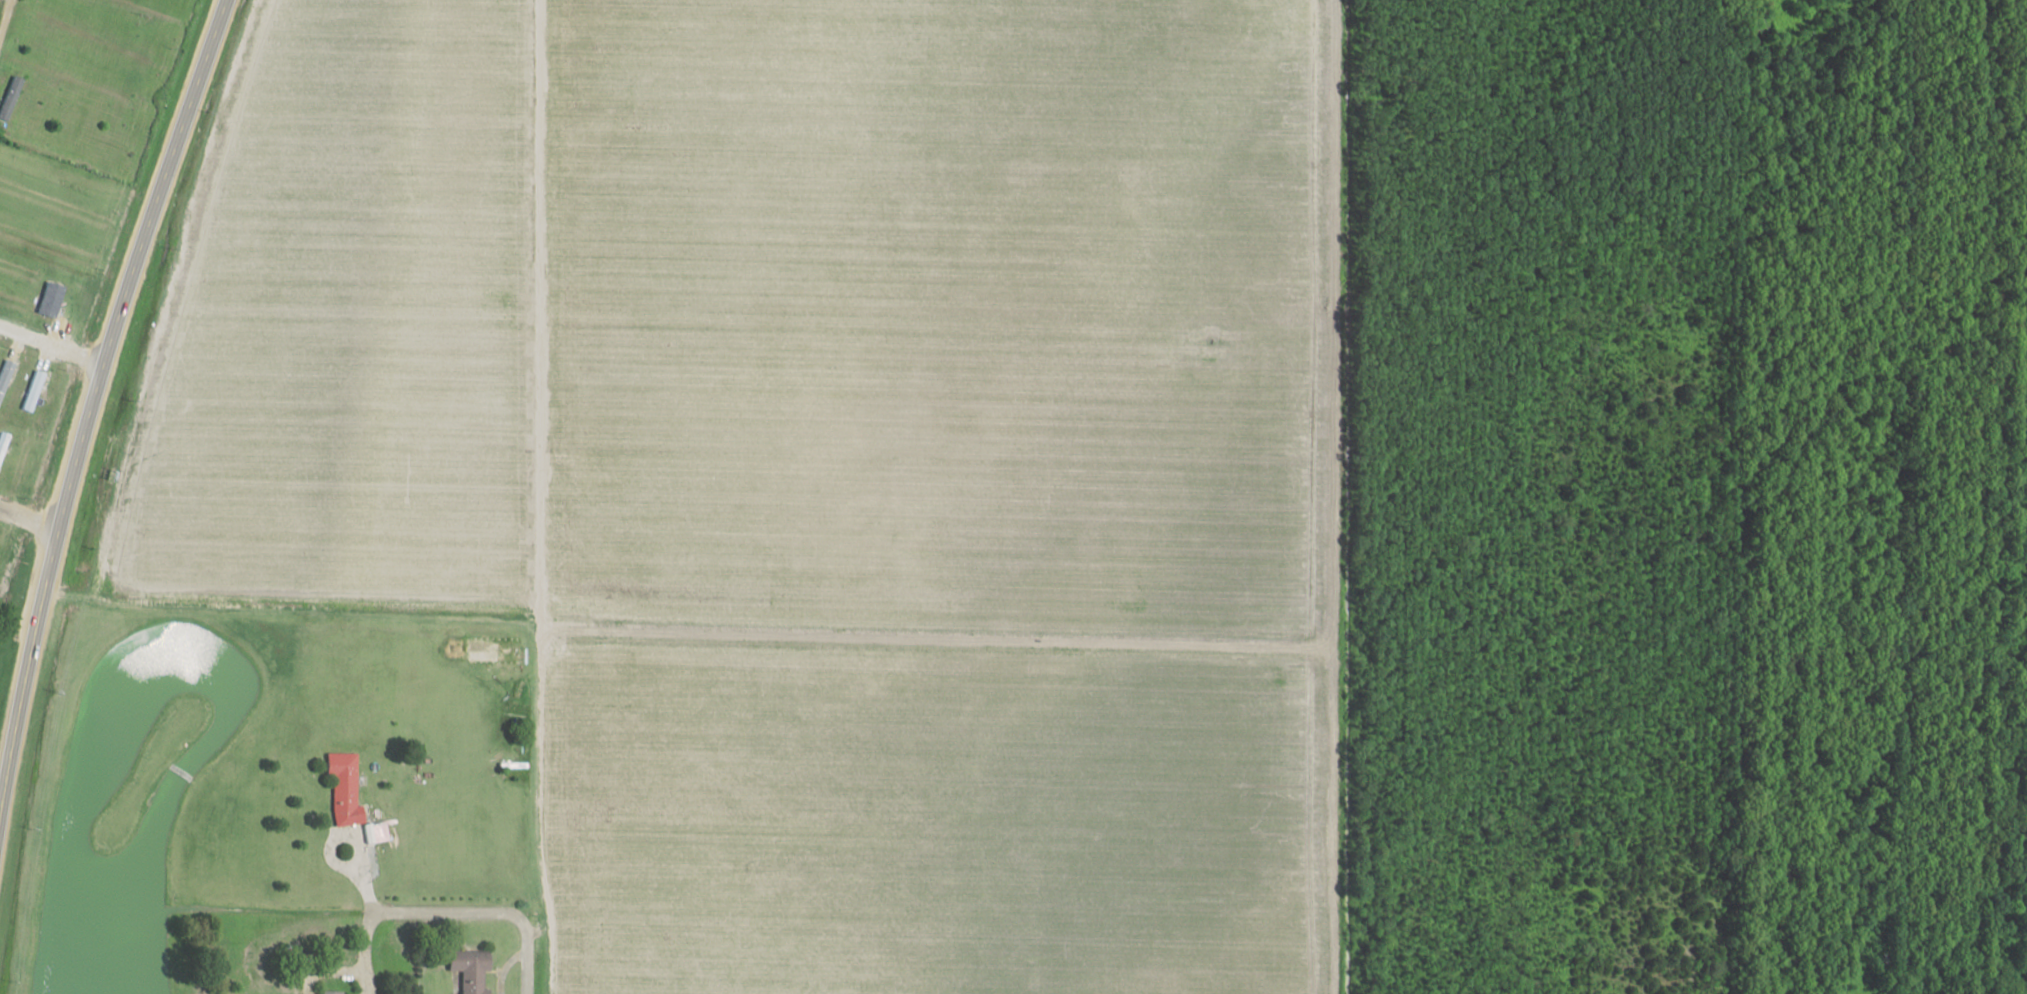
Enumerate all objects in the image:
road: (1, 5)
road: (552, 51)
building: (12, 97)
building: (53, 299)
road: (50, 346)
building: (6, 376)
building: (34, 390)
road: (89, 400)
building: (3, 445)
road: (28, 515)
building: (347, 787)
road: (342, 863)
road: (448, 912)
road: (365, 933)
road: (525, 959)
building: (474, 968)
road: (451, 988)
building: (331, 991)

